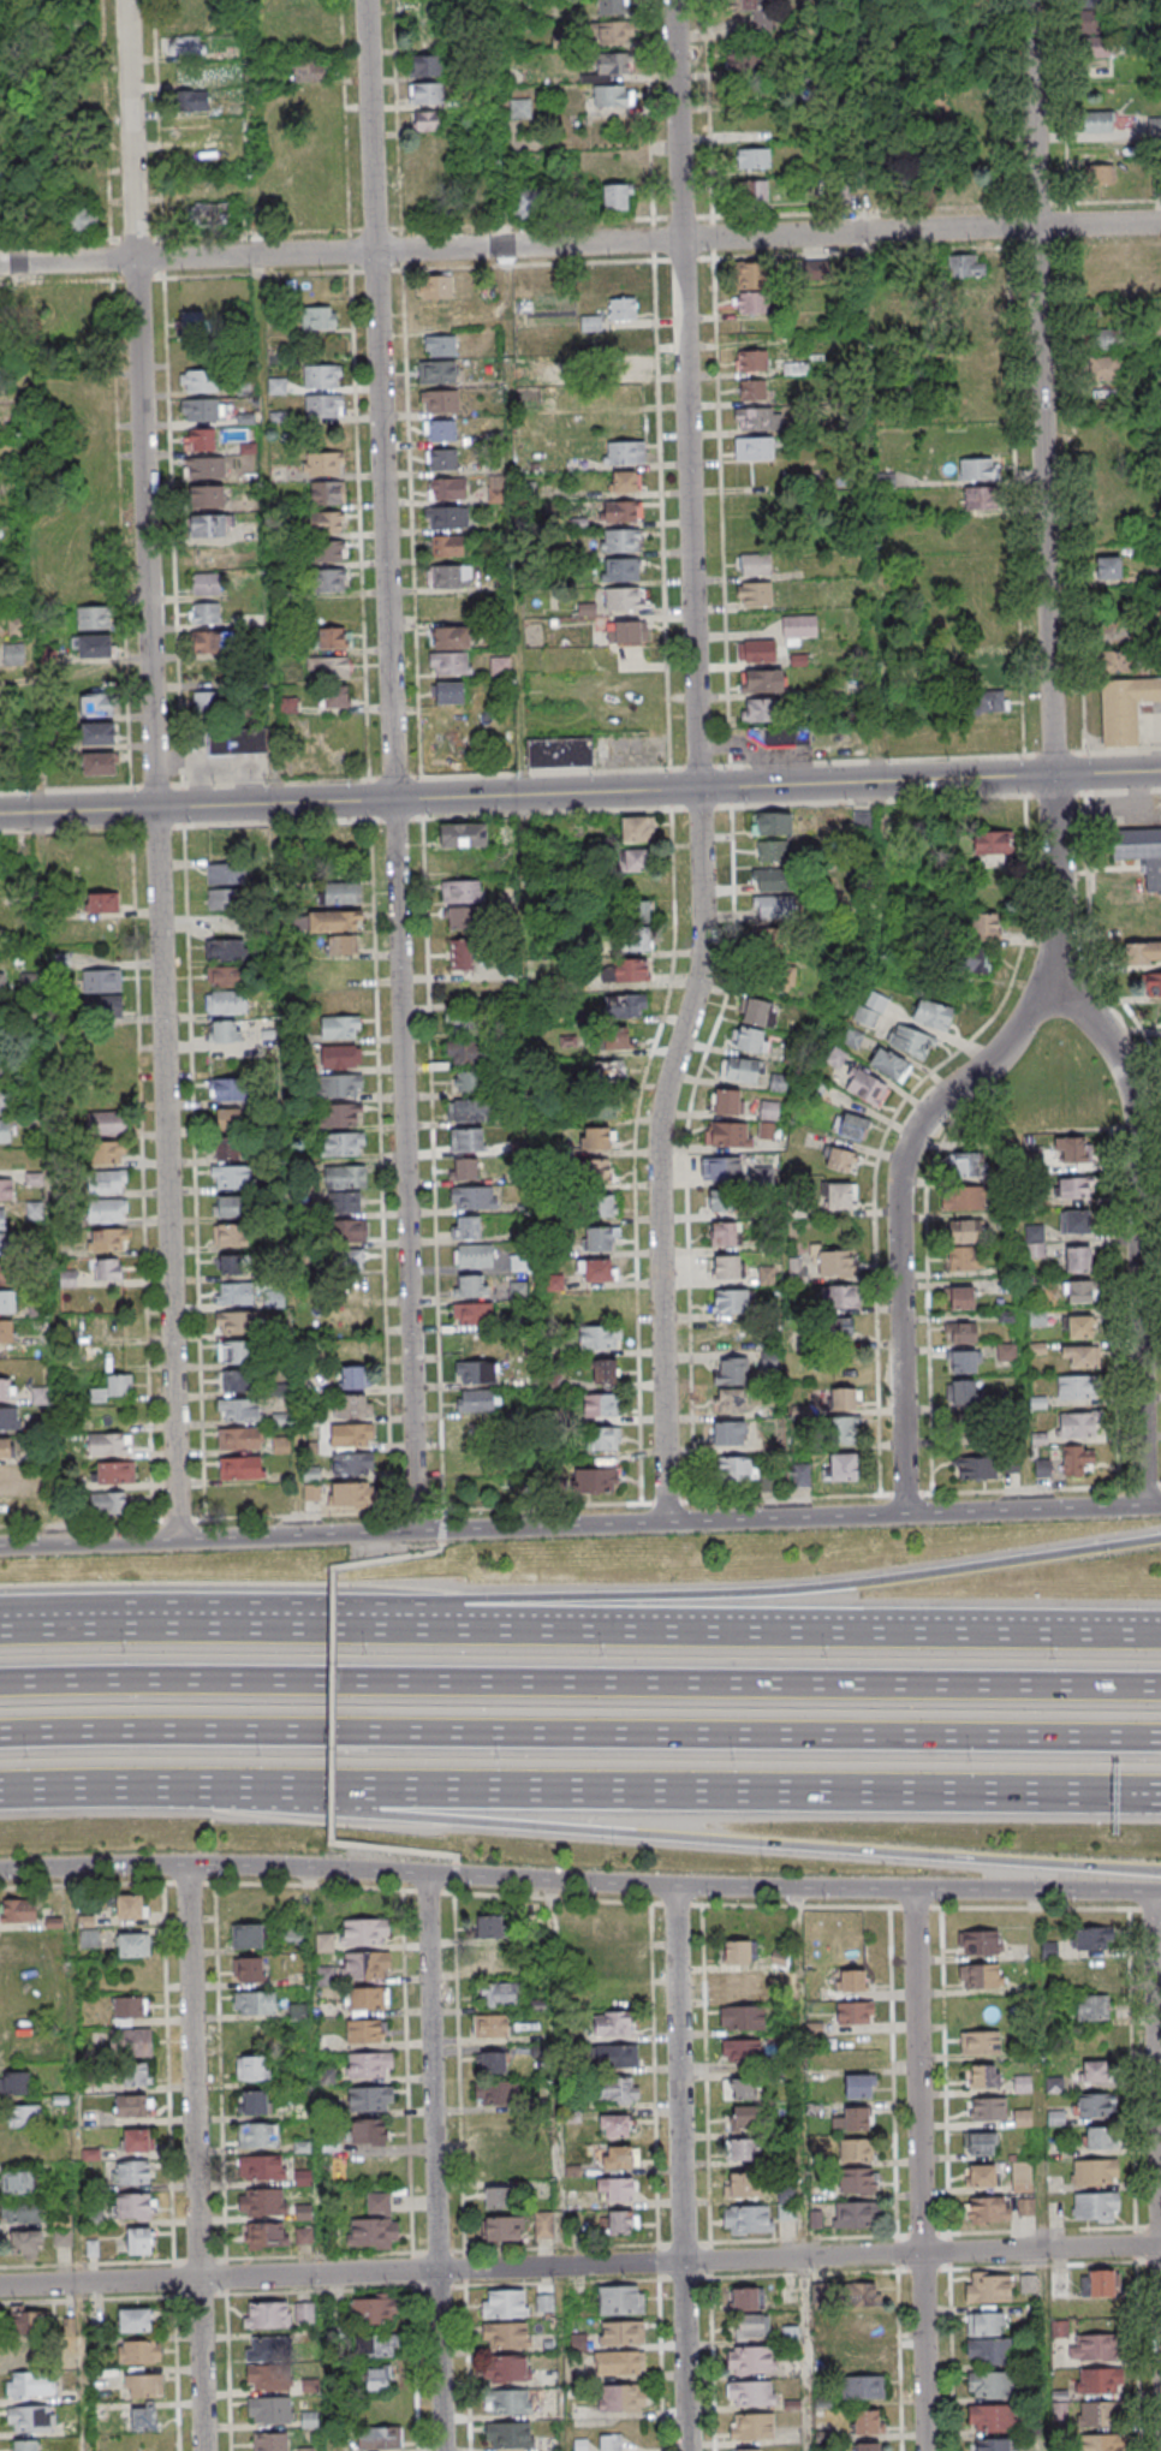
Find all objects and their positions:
building: (613, 7)
building: (754, 11)
building: (71, 29)
building: (617, 32)
building: (184, 44)
building: (1106, 46)
building: (742, 63)
building: (613, 64)
building: (425, 65)
building: (306, 70)
building: (425, 93)
building: (612, 96)
building: (194, 100)
building: (519, 109)
road: (856, 117)
building: (425, 120)
building: (1097, 121)
building: (752, 157)
building: (1100, 174)
building: (756, 190)
building: (615, 196)
building: (528, 201)
building: (210, 213)
building: (82, 221)
road: (579, 243)
building: (965, 267)
building: (1107, 272)
building: (435, 286)
building: (751, 287)
building: (977, 295)
building: (621, 308)
building: (318, 317)
building: (76, 321)
building: (190, 322)
building: (591, 322)
building: (440, 345)
building: (751, 359)
building: (629, 364)
building: (1105, 368)
building: (436, 371)
building: (322, 376)
building: (198, 381)
building: (752, 389)
building: (440, 400)
building: (323, 405)
building: (200, 409)
building: (757, 420)
building: (440, 429)
building: (200, 439)
building: (754, 450)
building: (623, 452)
building: (441, 458)
building: (325, 463)
building: (204, 468)
building: (977, 469)
building: (623, 481)
building: (446, 488)
building: (327, 492)
building: (207, 496)
building: (978, 498)
building: (620, 511)
building: (446, 517)
building: (327, 522)
building: (208, 525)
building: (619, 540)
building: (447, 545)
building: (328, 552)
building: (755, 564)
building: (1106, 567)
building: (620, 570)
building: (449, 576)
building: (329, 579)
building: (206, 583)
building: (754, 593)
road: (873, 595)
building: (624, 600)
building: (204, 613)
building: (94, 617)
building: (16, 626)
building: (798, 629)
building: (621, 631)
building: (333, 637)
building: (449, 637)
building: (206, 642)
building: (93, 646)
building: (756, 650)
building: (48, 653)
building: (13, 654)
building: (1117, 661)
building: (451, 662)
building: (329, 666)
building: (990, 676)
building: (761, 680)
building: (447, 691)
building: (333, 696)
building: (990, 701)
building: (207, 702)
building: (288, 704)
building: (95, 706)
building: (1125, 708)
building: (758, 709)
building: (97, 733)
building: (778, 736)
building: (238, 740)
building: (559, 751)
road: (1052, 761)
building: (99, 763)
road: (523, 763)
road: (394, 765)
road: (696, 765)
road: (275, 767)
road: (156, 769)
road: (36, 772)
road: (580, 772)
road: (690, 789)
road: (109, 809)
building: (770, 823)
road: (159, 827)
building: (635, 828)
road: (71, 831)
building: (463, 834)
building: (992, 841)
building: (772, 850)
building: (1141, 852)
building: (635, 859)
building: (225, 873)
building: (770, 879)
building: (462, 891)
building: (343, 893)
building: (224, 898)
building: (102, 902)
building: (774, 906)
building: (458, 917)
building: (335, 921)
building: (637, 926)
building: (984, 927)
building: (343, 945)
building: (225, 950)
building: (1142, 953)
building: (460, 954)
building: (773, 959)
building: (624, 970)
building: (222, 976)
building: (101, 981)
building: (2, 984)
building: (1153, 984)
building: (225, 1001)
building: (101, 1005)
building: (625, 1005)
building: (755, 1011)
building: (931, 1013)
building: (462, 1022)
building: (340, 1027)
building: (224, 1030)
building: (749, 1039)
building: (613, 1040)
building: (910, 1040)
building: (466, 1052)
building: (339, 1055)
building: (888, 1064)
building: (738, 1069)
building: (4, 1070)
building: (605, 1071)
building: (468, 1081)
building: (776, 1083)
building: (343, 1085)
building: (865, 1087)
building: (227, 1089)
building: (5, 1097)
building: (725, 1101)
building: (600, 1108)
building: (471, 1110)
building: (768, 1111)
building: (339, 1114)
building: (106, 1123)
building: (849, 1125)
building: (5, 1130)
building: (767, 1131)
building: (227, 1134)
building: (728, 1135)
building: (466, 1140)
building: (595, 1140)
building: (341, 1143)
building: (1072, 1149)
building: (108, 1150)
building: (840, 1160)
building: (964, 1164)
building: (464, 1167)
building: (720, 1170)
building: (594, 1171)
building: (231, 1176)
building: (345, 1176)
building: (107, 1180)
building: (1073, 1186)
building: (6, 1189)
road: (898, 1189)
building: (474, 1196)
building: (840, 1196)
building: (963, 1196)
building: (345, 1201)
building: (722, 1202)
building: (227, 1206)
building: (602, 1206)
building: (107, 1210)
building: (1, 1219)
building: (1073, 1221)
building: (465, 1226)
building: (346, 1230)
building: (965, 1231)
building: (1034, 1232)
building: (230, 1235)
building: (725, 1235)
building: (107, 1239)
building: (599, 1239)
building: (7, 1242)
building: (474, 1256)
building: (961, 1259)
building: (1076, 1259)
building: (347, 1260)
building: (230, 1263)
building: (835, 1263)
building: (726, 1267)
building: (108, 1268)
building: (594, 1271)
building: (5, 1272)
building: (472, 1285)
building: (1077, 1291)
building: (233, 1293)
building: (836, 1297)
building: (960, 1297)
building: (7, 1301)
building: (730, 1301)
building: (472, 1313)
building: (233, 1322)
building: (1079, 1326)
building: (836, 1327)
building: (6, 1331)
building: (960, 1332)
building: (600, 1337)
building: (233, 1351)
building: (1006, 1351)
building: (1079, 1355)
building: (768, 1360)
building: (964, 1361)
building: (732, 1369)
building: (605, 1370)
building: (476, 1372)
building: (352, 1378)
building: (236, 1379)
building: (1074, 1386)
building: (113, 1388)
building: (6, 1390)
building: (963, 1392)
building: (841, 1398)
building: (477, 1399)
building: (731, 1400)
building: (600, 1405)
building: (352, 1408)
building: (238, 1409)
building: (8, 1418)
building: (1078, 1423)
building: (970, 1427)
building: (843, 1429)
building: (474, 1430)
building: (727, 1433)
building: (351, 1435)
building: (239, 1438)
building: (605, 1439)
building: (109, 1444)
building: (5, 1448)
building: (1077, 1459)
building: (472, 1461)
building: (352, 1464)
building: (844, 1467)
building: (240, 1468)
building: (975, 1468)
building: (736, 1469)
building: (113, 1473)
building: (799, 1475)
building: (10, 1477)
building: (596, 1481)
building: (768, 1482)
building: (311, 1493)
building: (352, 1495)
building: (108, 1504)
building: (11, 1510)
road: (802, 1518)
road: (442, 1522)
road: (442, 1537)
road: (221, 1539)
road: (389, 1559)
road: (719, 1595)
road: (198, 1626)
road: (59, 1628)
road: (719, 1628)
road: (579, 1682)
road: (332, 1705)
road: (579, 1735)
road: (87, 1790)
road: (667, 1793)
road: (667, 1837)
road: (403, 1848)
road: (574, 1881)
road: (284, 1886)
road: (1156, 1890)
building: (130, 1905)
road: (916, 1909)
road: (1035, 1909)
building: (18, 1910)
road: (1145, 1910)
building: (489, 1926)
building: (365, 1932)
building: (248, 1935)
building: (88, 1938)
building: (1092, 1938)
building: (292, 1939)
building: (980, 1941)
building: (11, 1944)
building: (132, 1944)
building: (737, 1951)
building: (607, 1959)
building: (489, 1961)
building: (365, 1965)
building: (249, 1969)
building: (1090, 1971)
building: (981, 1975)
building: (850, 1980)
building: (739, 1983)
road: (457, 1992)
building: (499, 1994)
building: (367, 1999)
building: (254, 2003)
building: (130, 2007)
building: (1091, 2007)
building: (853, 2011)
building: (742, 2017)
building: (612, 2022)
building: (490, 2025)
building: (364, 2031)
building: (131, 2041)
building: (980, 2041)
building: (740, 2050)
building: (617, 2056)
building: (490, 2062)
building: (369, 2065)
road: (407, 2065)
building: (252, 2068)
building: (1094, 2071)
building: (135, 2074)
road: (220, 2074)
road: (707, 2074)
building: (982, 2076)
road: (169, 2078)
building: (14, 2082)
building: (857, 2086)
building: (739, 2088)
building: (617, 2089)
road: (894, 2089)
road: (945, 2089)
building: (496, 2092)
road: (655, 2093)
building: (370, 2099)
road: (1155, 2099)
building: (251, 2101)
building: (130, 2105)
building: (1095, 2105)
building: (987, 2108)
building: (24, 2116)
building: (742, 2118)
building: (851, 2118)
building: (615, 2125)
building: (368, 2131)
building: (257, 2134)
building: (1097, 2137)
building: (136, 2140)
building: (980, 2142)
building: (740, 2148)
building: (855, 2149)
building: (619, 2156)
road: (79, 2158)
road: (196, 2158)
road: (318, 2159)
road: (435, 2161)
building: (499, 2163)
building: (263, 2166)
road: (681, 2167)
road: (803, 2169)
road: (922, 2170)
building: (1095, 2171)
building: (133, 2172)
building: (980, 2175)
building: (856, 2181)
road: (1135, 2181)
building: (17, 2182)
building: (1022, 2183)
building: (743, 2184)
building: (617, 2189)
building: (496, 2197)
building: (262, 2201)
building: (786, 2203)
building: (132, 2206)
building: (1095, 2206)
building: (1025, 2207)
building: (987, 2208)
building: (24, 2211)
building: (855, 2214)
building: (748, 2219)
building: (623, 2223)
building: (374, 2224)
building: (543, 2224)
building: (501, 2229)
building: (62, 2230)
road: (1029, 2231)
building: (262, 2235)
building: (138, 2239)
road: (778, 2241)
building: (25, 2242)
road: (416, 2253)
road: (580, 2265)
road: (1055, 2266)
building: (1059, 2283)
building: (1097, 2283)
road: (440, 2288)
building: (988, 2288)
road: (320, 2292)
building: (862, 2294)
road: (201, 2296)
road: (220, 2296)
building: (746, 2298)
road: (87, 2300)
building: (620, 2300)
building: (505, 2303)
building: (544, 2304)
building: (374, 2312)
building: (304, 2314)
building: (267, 2315)
building: (135, 2320)
building: (30, 2322)
building: (861, 2324)
building: (984, 2324)
building: (750, 2325)
building: (621, 2332)
road: (952, 2333)
building: (506, 2334)
building: (379, 2346)
road: (713, 2346)
building: (1092, 2346)
building: (138, 2351)
building: (23, 2352)
building: (989, 2352)
road: (228, 2355)
building: (858, 2357)
building: (751, 2360)
road: (899, 2361)
building: (266, 2362)
building: (620, 2363)
road: (660, 2366)
road: (177, 2367)
building: (506, 2368)
building: (377, 2379)
building: (1097, 2380)
building: (30, 2384)
building: (143, 2385)
building: (989, 2385)
building: (863, 2387)
building: (750, 2393)
building: (621, 2399)
building: (508, 2402)
building: (269, 2410)
building: (1102, 2415)
building: (143, 2416)
building: (309, 2417)
building: (30, 2419)
building: (990, 2420)
building: (865, 2421)
building: (752, 2427)
building: (508, 2435)
building: (380, 2438)
building: (270, 2441)
building: (611, 2444)
building: (1102, 2444)
building: (25, 2445)
building: (547, 2445)
building: (579, 2445)
building: (990, 2445)
building: (867, 2446)
building: (306, 2449)
building: (745, 2450)

